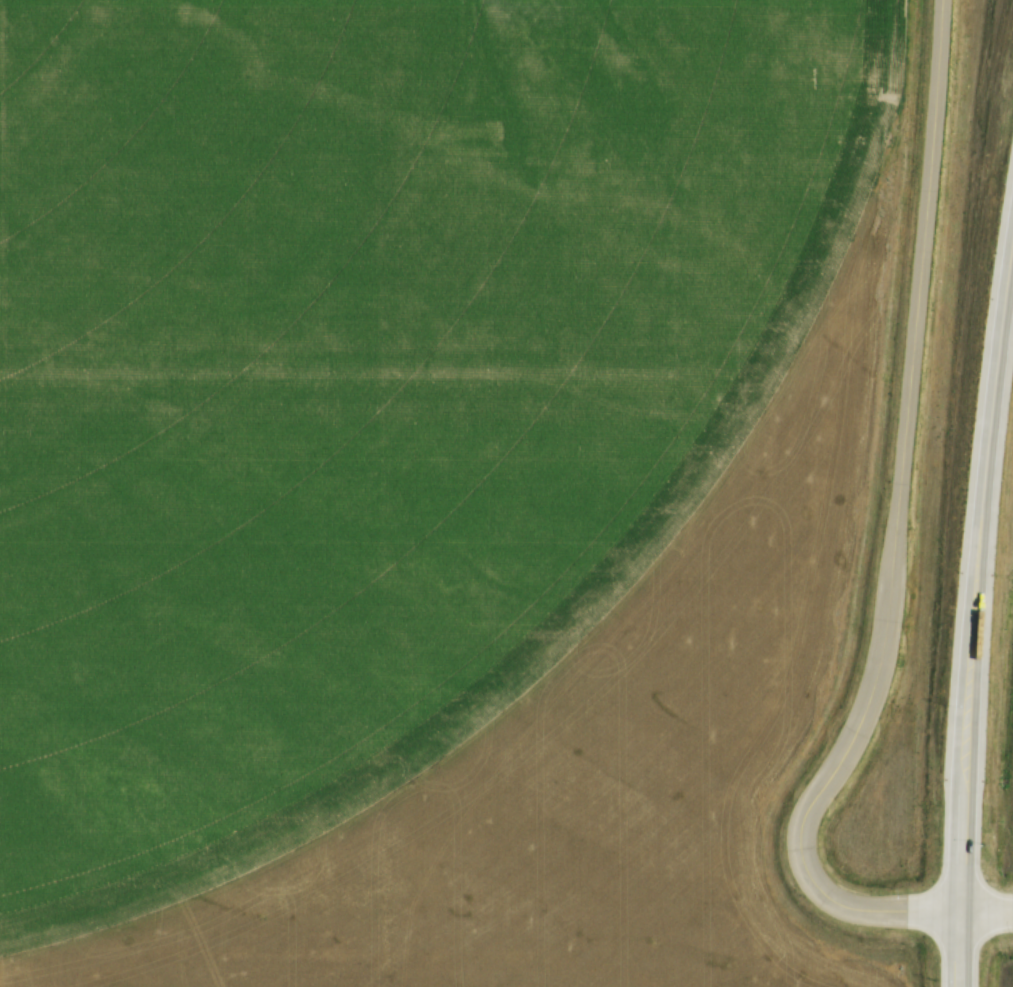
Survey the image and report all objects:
road: (896, 526)
road: (973, 572)
road: (985, 909)
road: (958, 948)

